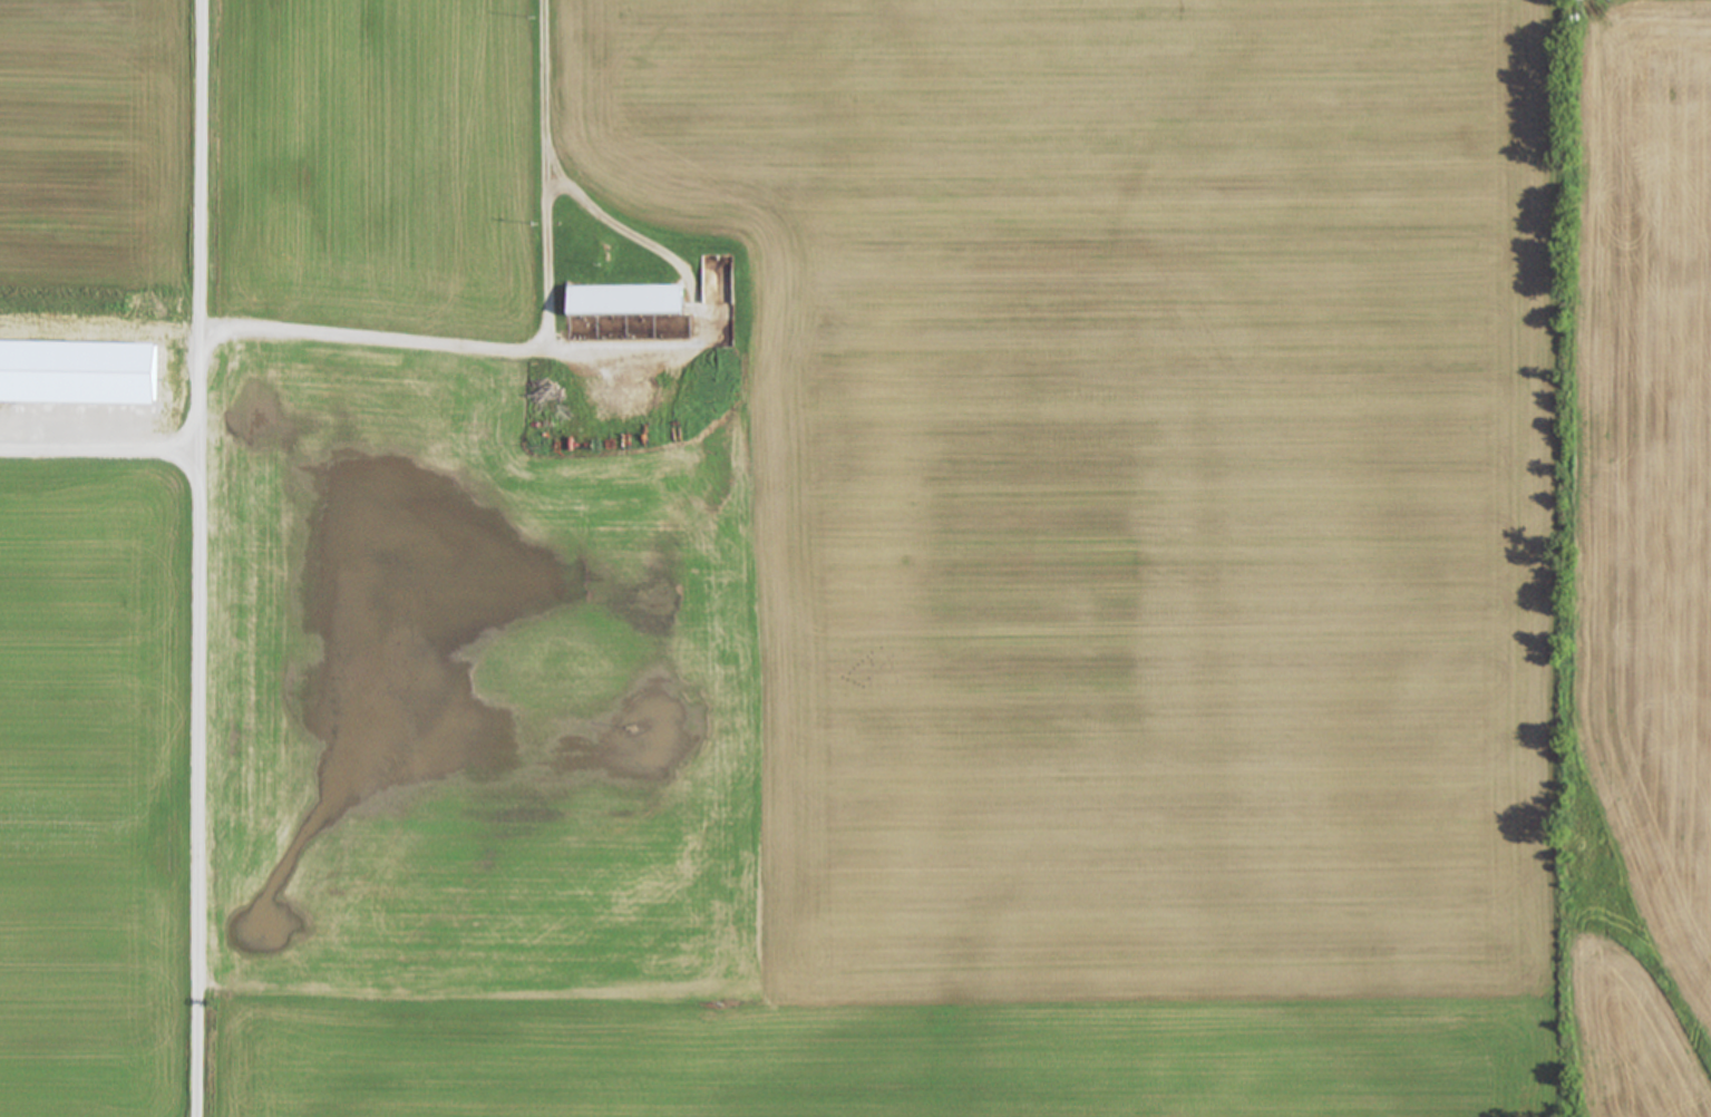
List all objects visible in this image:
road: (690, 285)
building: (630, 302)
road: (545, 346)
road: (101, 448)
road: (202, 558)

